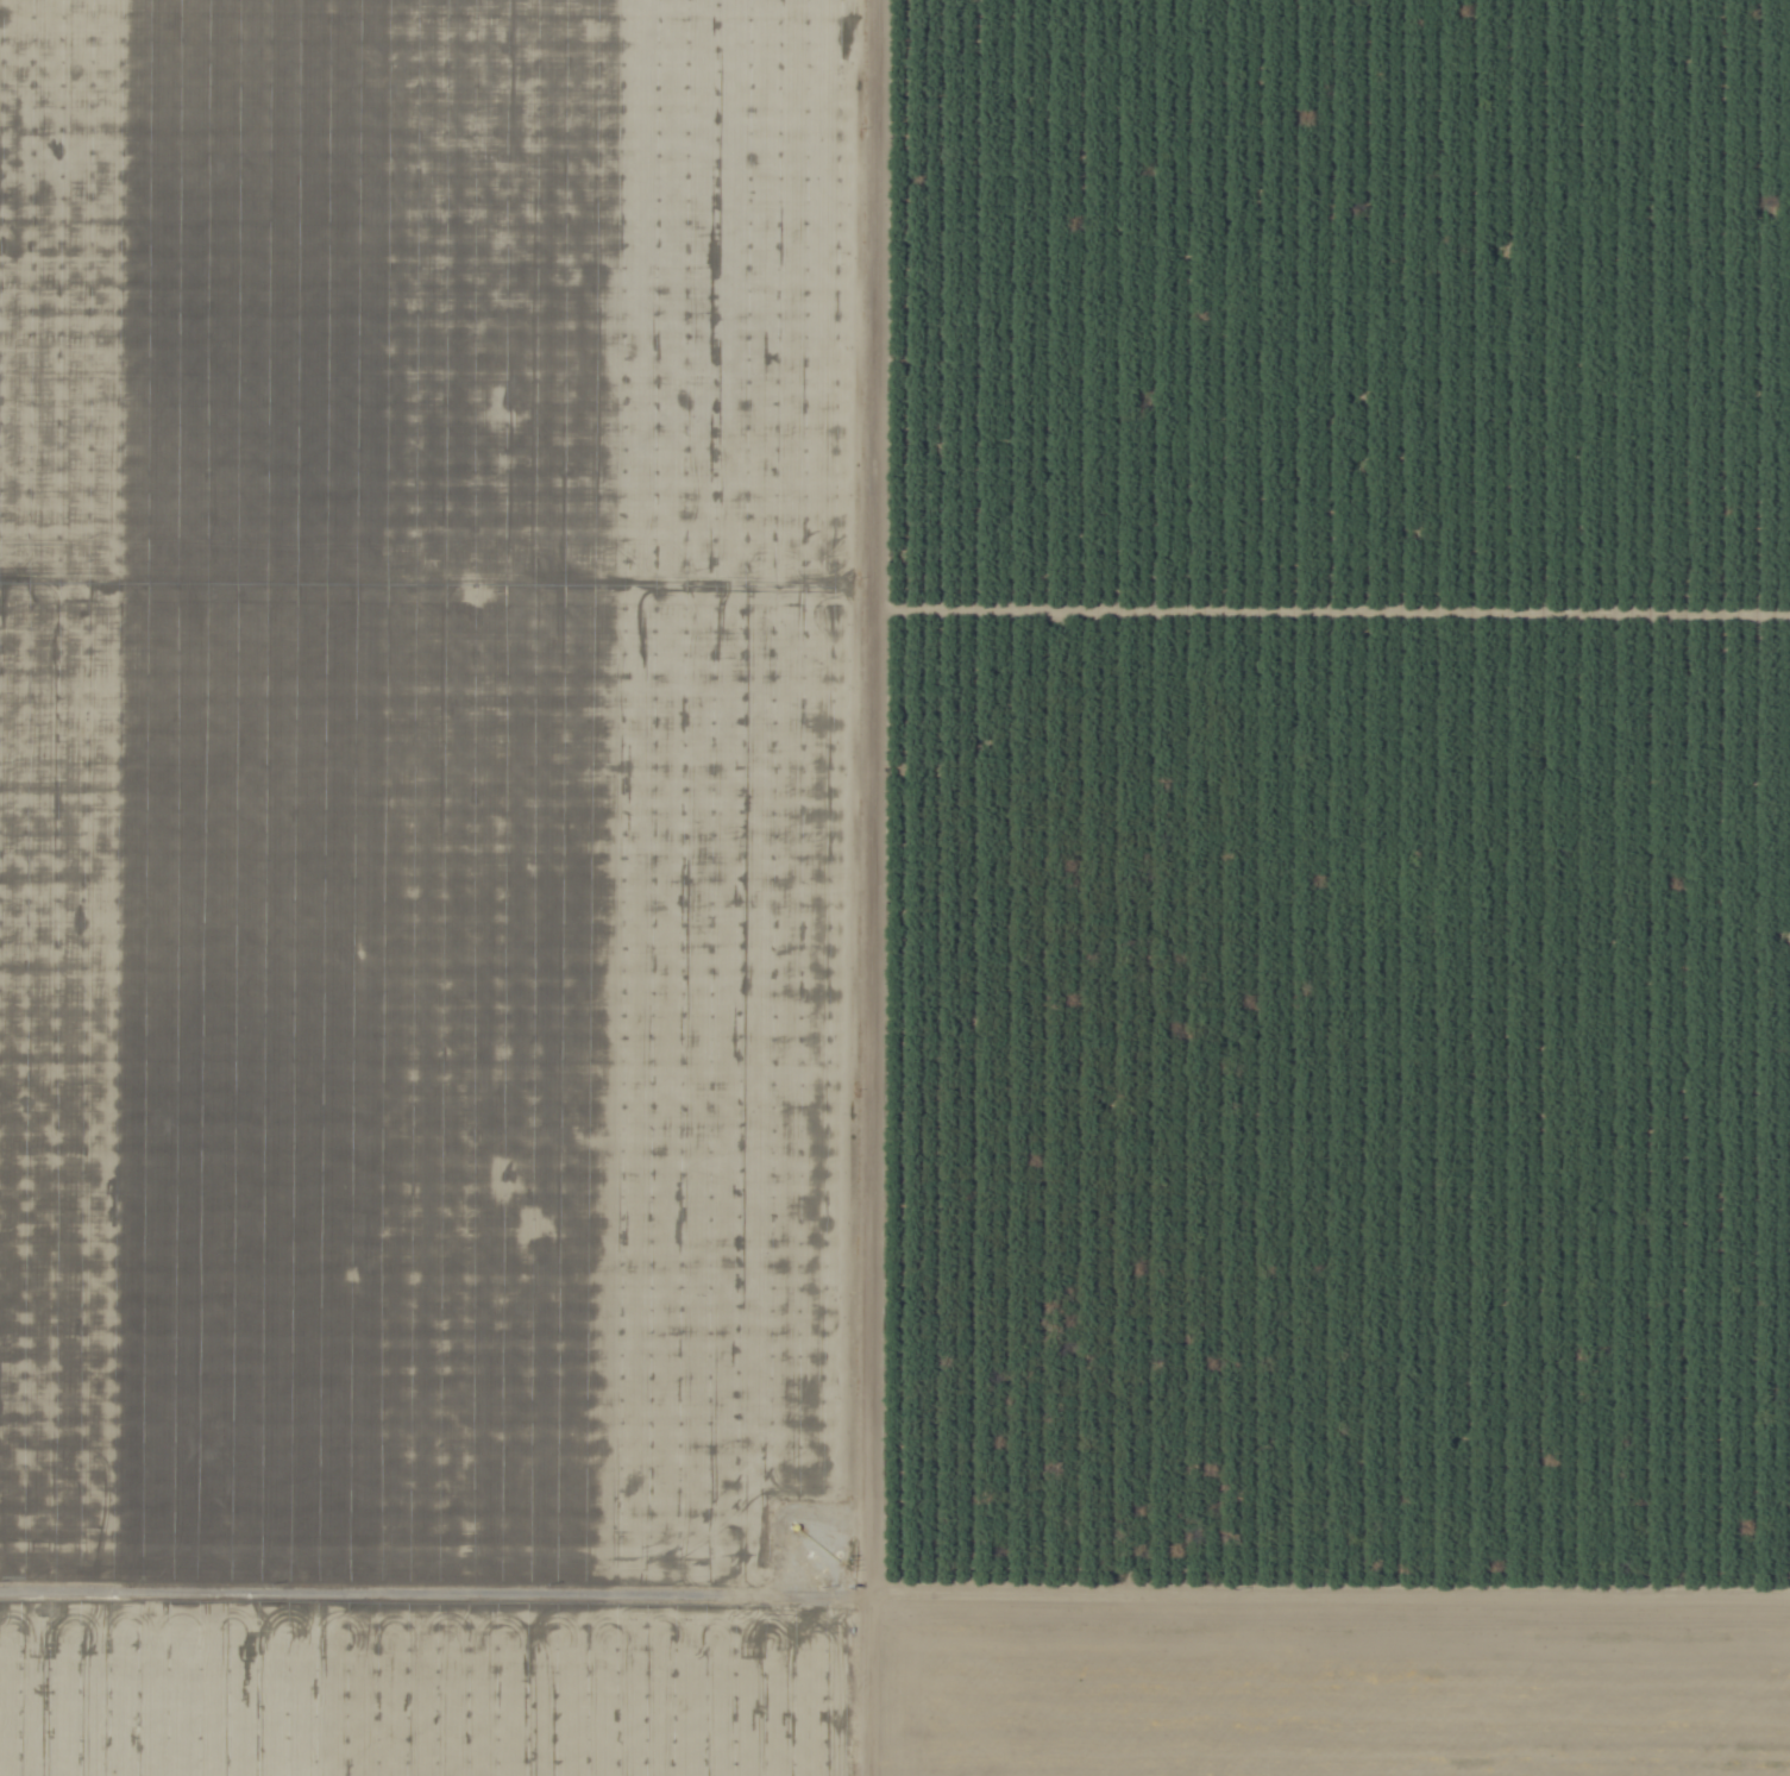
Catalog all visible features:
crop: (894, 887)
road: (894, 1596)
road: (850, 1686)

